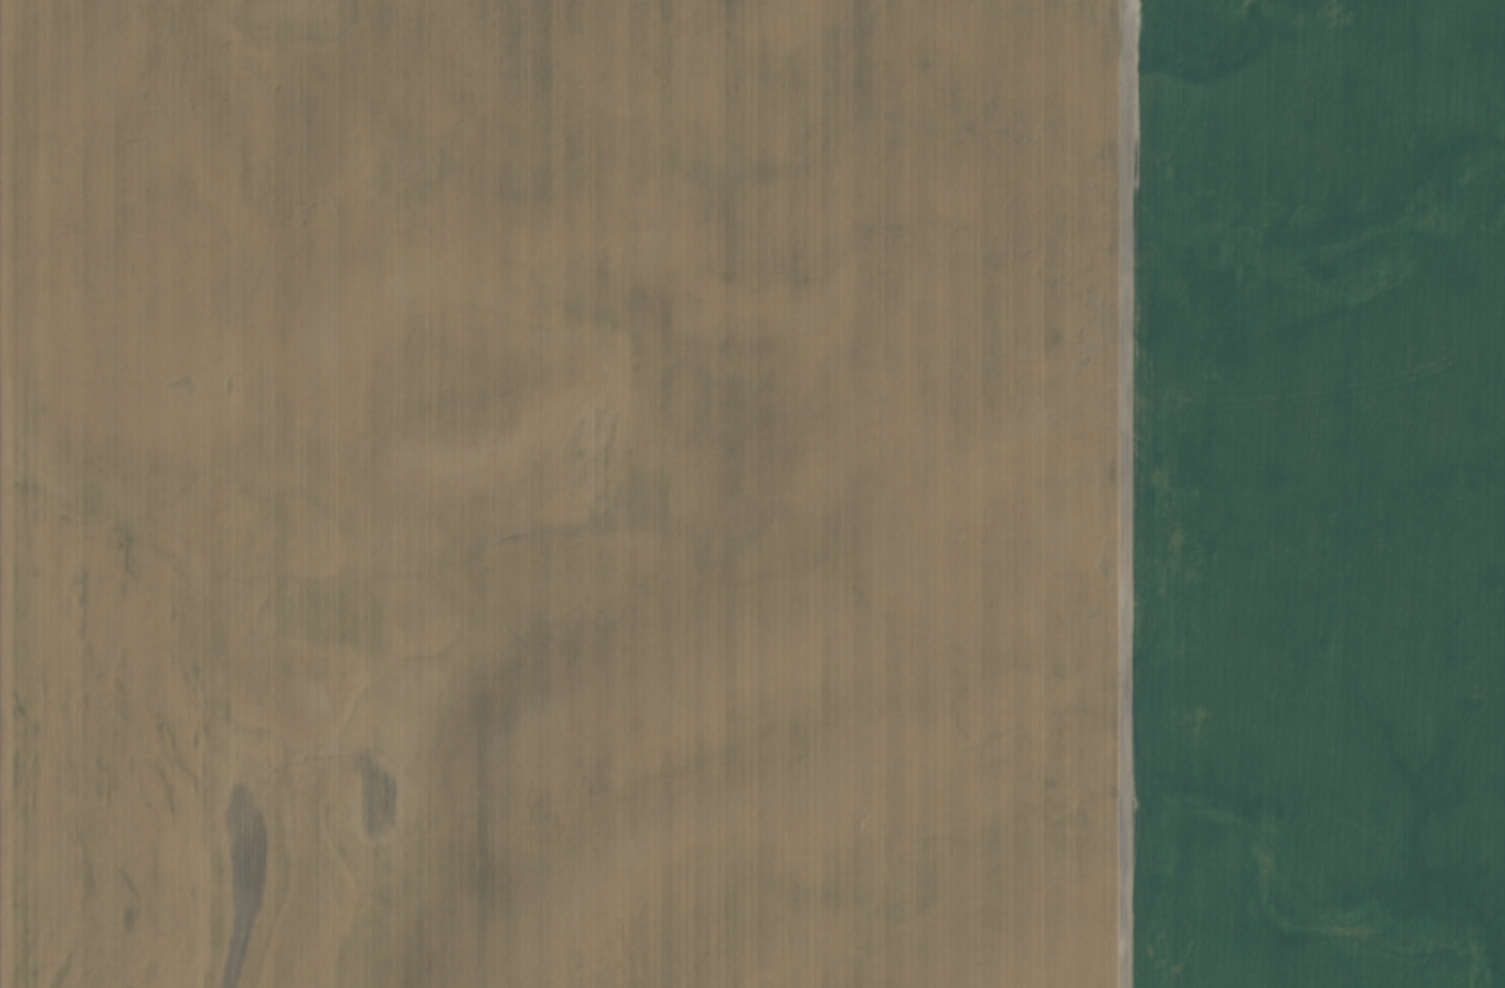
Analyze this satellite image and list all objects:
road: (1144, 493)
road: (3, 494)

